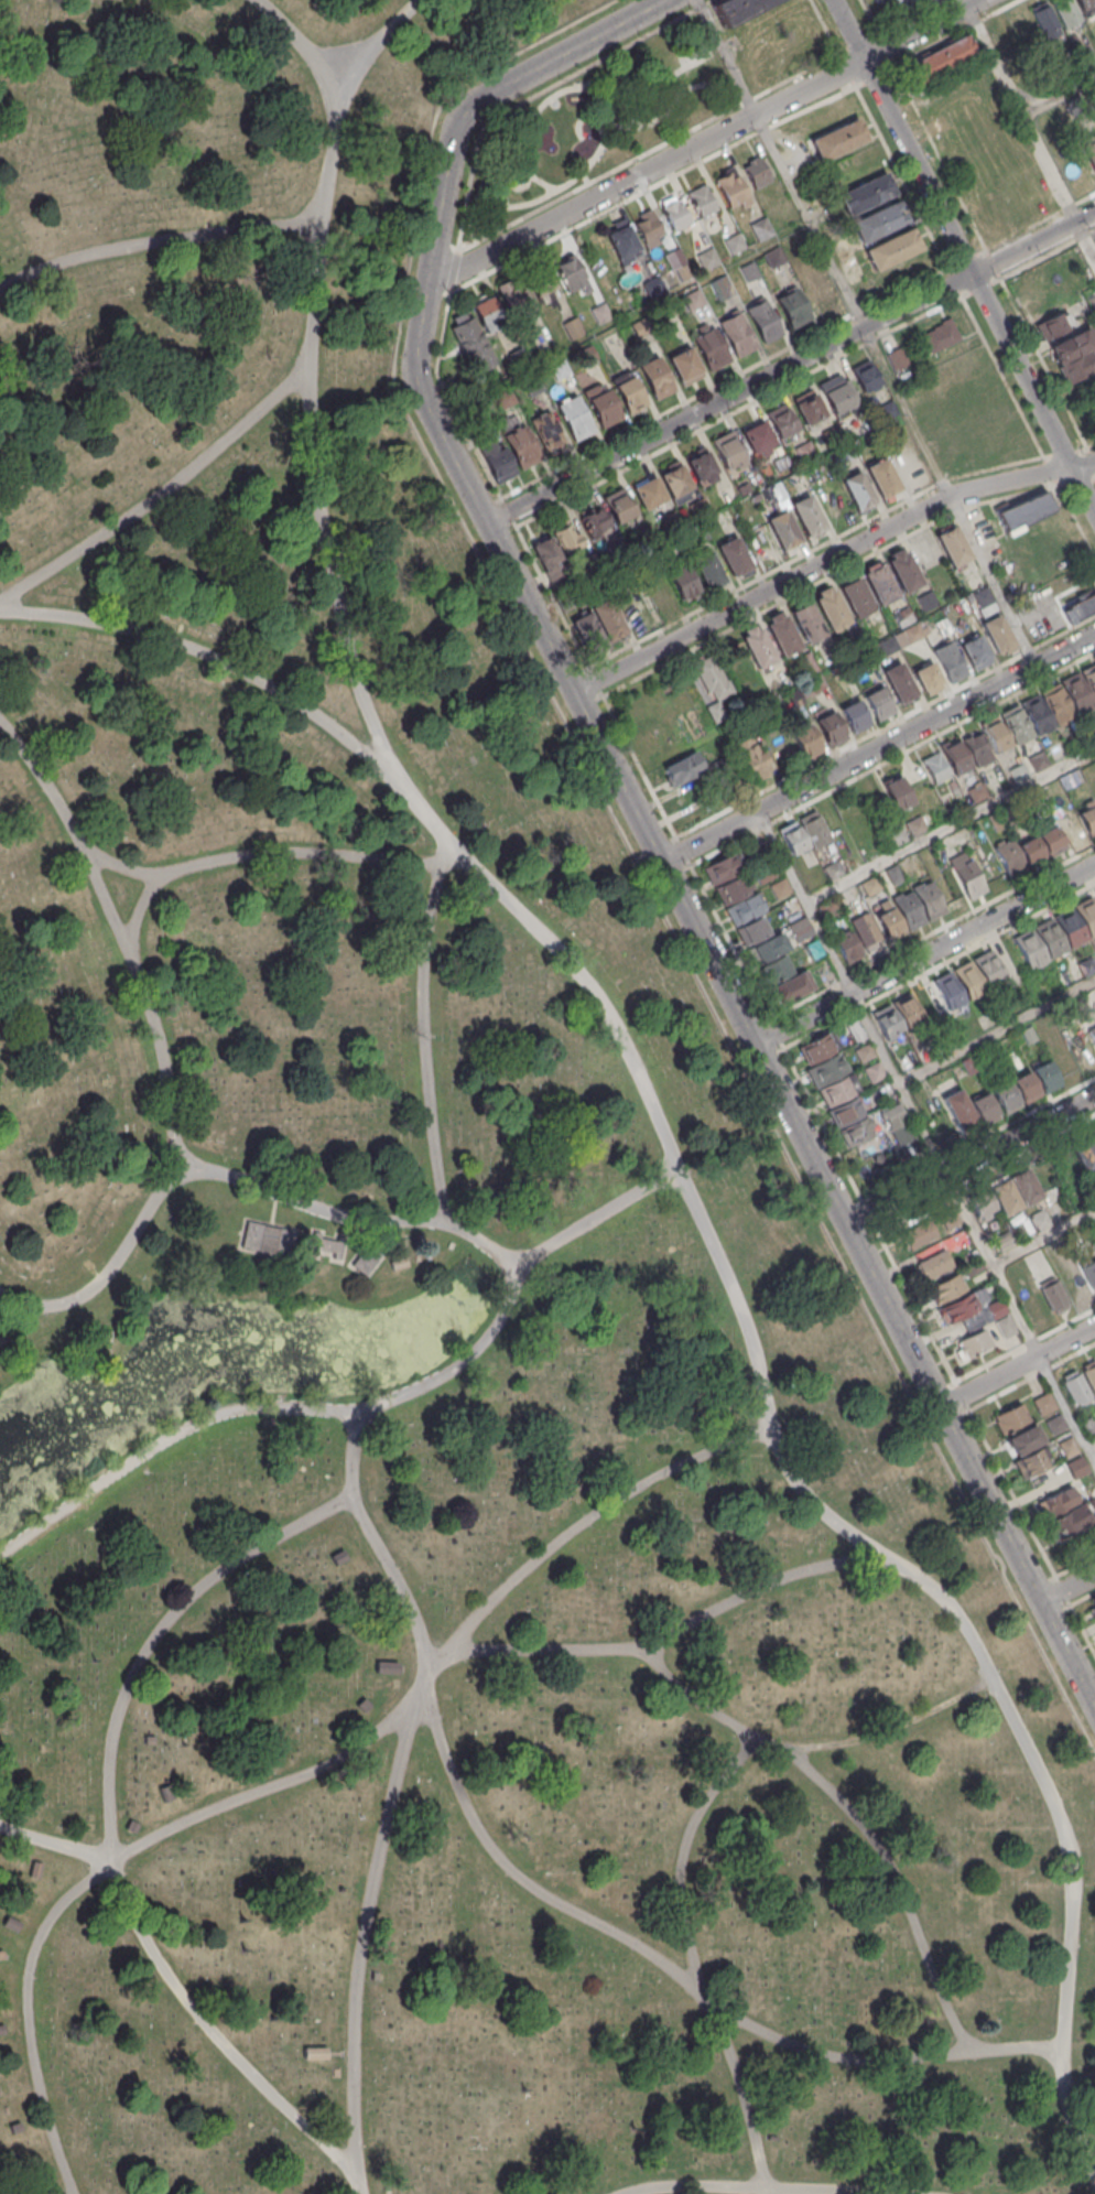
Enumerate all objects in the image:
road: (965, 2)
building: (1084, 3)
building: (735, 8)
building: (1064, 11)
building: (1042, 17)
road: (311, 55)
park: (694, 55)
road: (727, 57)
building: (937, 60)
road: (676, 69)
road: (606, 73)
road: (711, 85)
road: (1059, 96)
road: (599, 97)
building: (1072, 106)
park: (597, 121)
road: (604, 123)
road: (1031, 132)
building: (838, 138)
road: (701, 142)
building: (1089, 151)
building: (756, 171)
road: (528, 173)
road: (525, 175)
road: (576, 175)
road: (584, 176)
road: (483, 183)
building: (731, 186)
building: (867, 193)
road: (486, 198)
building: (702, 199)
building: (675, 215)
building: (880, 220)
building: (648, 226)
building: (760, 228)
road: (158, 238)
road: (1032, 241)
building: (734, 242)
building: (622, 244)
building: (893, 248)
building: (773, 256)
road: (963, 258)
building: (707, 260)
building: (568, 271)
building: (749, 271)
building: (541, 283)
building: (653, 287)
building: (720, 287)
building: (822, 292)
building: (511, 294)
building: (1091, 300)
building: (694, 301)
building: (792, 307)
building: (487, 313)
building: (600, 314)
building: (763, 321)
building: (1054, 323)
building: (572, 327)
building: (639, 327)
building: (736, 334)
building: (941, 335)
building: (468, 341)
building: (1072, 345)
building: (711, 348)
building: (586, 354)
building: (517, 355)
building: (897, 358)
building: (684, 365)
building: (1077, 367)
building: (559, 369)
building: (865, 375)
building: (655, 377)
building: (532, 386)
building: (628, 390)
road: (893, 391)
building: (835, 392)
road: (728, 397)
building: (505, 398)
building: (603, 404)
building: (807, 408)
building: (886, 409)
building: (575, 417)
building: (781, 420)
building: (547, 432)
building: (831, 434)
building: (757, 436)
building: (521, 445)
building: (728, 448)
building: (803, 451)
building: (497, 460)
building: (701, 464)
building: (752, 477)
building: (881, 477)
building: (674, 478)
building: (857, 489)
building: (649, 493)
road: (163, 494)
building: (618, 504)
building: (696, 507)
building: (1023, 510)
building: (806, 516)
building: (593, 520)
building: (671, 520)
building: (782, 528)
building: (698, 532)
building: (642, 533)
building: (566, 536)
building: (951, 544)
building: (616, 549)
building: (733, 556)
road: (828, 558)
building: (550, 559)
building: (707, 569)
building: (902, 570)
building: (682, 581)
building: (878, 583)
building: (659, 595)
building: (983, 596)
building: (855, 597)
building: (926, 599)
building: (565, 601)
building: (1081, 605)
building: (830, 607)
building: (632, 608)
building: (902, 616)
building: (606, 618)
building: (805, 620)
building: (587, 630)
building: (997, 633)
building: (780, 634)
building: (908, 635)
building: (857, 638)
building: (888, 645)
building: (757, 646)
building: (976, 651)
road: (220, 660)
building: (948, 660)
building: (928, 677)
building: (1089, 678)
building: (713, 679)
building: (899, 682)
building: (815, 683)
building: (1076, 691)
building: (794, 698)
building: (879, 703)
building: (1056, 703)
building: (716, 712)
building: (1037, 714)
building: (855, 715)
building: (1016, 724)
building: (830, 727)
building: (996, 736)
building: (805, 739)
road: (877, 747)
building: (977, 747)
building: (752, 756)
building: (956, 756)
building: (1037, 760)
building: (681, 768)
building: (935, 768)
building: (1018, 772)
building: (953, 788)
building: (897, 791)
building: (977, 791)
road: (638, 818)
building: (1088, 819)
building: (995, 820)
building: (915, 825)
road: (950, 826)
building: (814, 828)
building: (892, 832)
building: (792, 837)
building: (1051, 840)
road: (274, 851)
building: (1031, 851)
building: (1010, 857)
building: (723, 867)
building: (832, 869)
building: (762, 874)
building: (893, 874)
building: (968, 879)
building: (870, 885)
building: (779, 888)
building: (729, 890)
building: (928, 899)
building: (744, 908)
building: (827, 908)
road: (139, 910)
building: (908, 910)
building: (1086, 915)
building: (889, 923)
building: (1070, 927)
building: (752, 929)
building: (800, 929)
building: (865, 929)
building: (1050, 938)
road: (124, 944)
building: (845, 944)
building: (766, 948)
building: (1030, 948)
building: (812, 949)
road: (924, 953)
building: (1086, 965)
building: (773, 969)
building: (989, 969)
building: (1066, 977)
building: (968, 980)
building: (787, 987)
building: (948, 990)
building: (907, 1010)
building: (886, 1020)
road: (424, 1028)
building: (855, 1029)
road: (996, 1030)
building: (1092, 1033)
building: (1028, 1034)
building: (815, 1047)
building: (863, 1051)
building: (967, 1064)
building: (826, 1068)
building: (874, 1071)
building: (1044, 1076)
building: (1024, 1087)
road: (644, 1090)
building: (834, 1090)
building: (1005, 1098)
building: (984, 1109)
building: (844, 1111)
building: (960, 1111)
building: (899, 1124)
building: (855, 1132)
road: (925, 1137)
building: (1093, 1137)
building: (1083, 1152)
road: (971, 1160)
building: (1022, 1185)
building: (1002, 1195)
building: (979, 1200)
road: (272, 1209)
road: (598, 1213)
building: (950, 1218)
building: (1039, 1220)
building: (919, 1233)
building: (267, 1239)
road: (1043, 1239)
building: (1002, 1240)
building: (323, 1244)
building: (364, 1260)
building: (1037, 1262)
building: (394, 1263)
building: (934, 1264)
building: (974, 1267)
building: (1089, 1273)
road: (513, 1277)
building: (1072, 1283)
building: (947, 1287)
building: (1053, 1294)
park: (426, 1300)
building: (1033, 1305)
building: (958, 1307)
building: (996, 1308)
building: (1005, 1326)
building: (100, 1333)
building: (975, 1342)
road: (1017, 1366)
building: (1091, 1373)
building: (1075, 1385)
building: (1043, 1403)
building: (1010, 1417)
building: (1054, 1423)
building: (1087, 1425)
building: (1024, 1439)
road: (1091, 1445)
building: (1066, 1446)
building: (1030, 1462)
building: (1076, 1467)
building: (1058, 1502)
building: (1092, 1502)
building: (1072, 1518)
road: (376, 1538)
road: (1067, 1588)
building: (1093, 1600)
road: (665, 1638)
road: (308, 1773)
road: (855, 1817)
road: (108, 1820)
road: (55, 1844)
road: (684, 1922)
road: (614, 1932)
road: (362, 1938)
building: (314, 2053)
road: (761, 2186)

